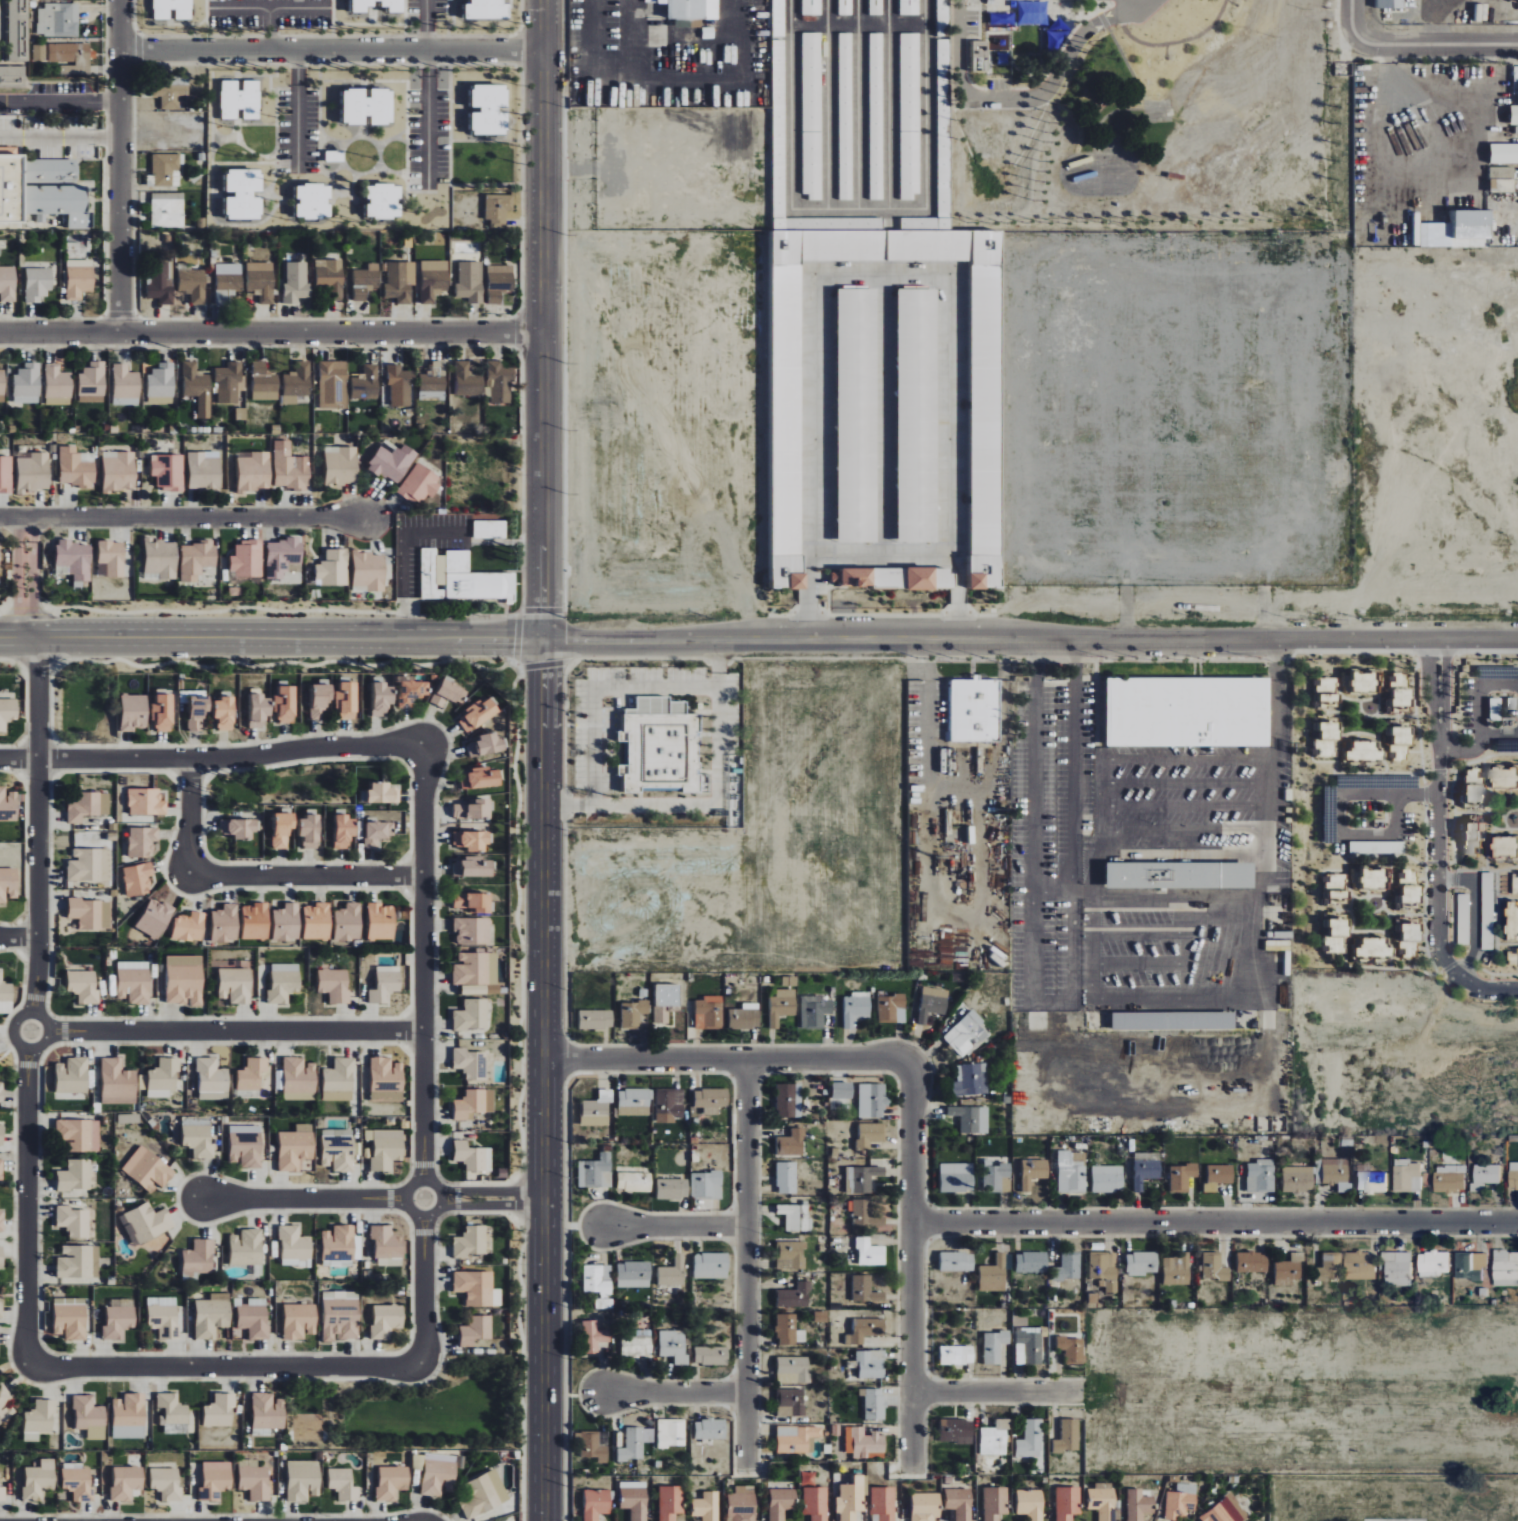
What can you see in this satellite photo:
building: (1385, 4)
road: (1122, 5)
road: (269, 6)
building: (392, 6)
building: (811, 7)
building: (845, 7)
building: (876, 7)
building: (909, 7)
building: (173, 9)
building: (487, 9)
building: (692, 9)
road: (1349, 15)
building: (941, 17)
road: (713, 18)
building: (778, 18)
building: (58, 20)
road: (858, 23)
road: (268, 27)
building: (16, 29)
road: (1434, 32)
road: (707, 36)
road: (589, 47)
road: (328, 48)
building: (39, 52)
building: (942, 55)
building: (980, 56)
building: (70, 57)
road: (685, 82)
road: (427, 90)
building: (170, 91)
building: (1516, 93)
building: (240, 99)
road: (1030, 99)
road: (59, 101)
road: (297, 104)
road: (828, 104)
road: (858, 104)
road: (889, 104)
building: (368, 106)
building: (490, 109)
building: (1511, 115)
building: (812, 116)
building: (845, 116)
building: (876, 116)
building: (909, 116)
road: (59, 136)
building: (1501, 153)
building: (335, 156)
road: (118, 163)
building: (165, 170)
building: (1497, 180)
building: (41, 190)
building: (244, 194)
building: (314, 201)
building: (384, 201)
building: (167, 209)
building: (498, 209)
road: (859, 209)
building: (1446, 228)
road: (881, 276)
building: (331, 277)
building: (79, 278)
building: (433, 280)
building: (261, 281)
building: (365, 281)
building: (297, 282)
building: (398, 282)
building: (469, 282)
building: (498, 282)
building: (160, 283)
building: (8, 284)
building: (38, 284)
building: (193, 284)
building: (228, 286)
road: (533, 318)
road: (266, 327)
building: (467, 380)
building: (500, 381)
building: (2, 382)
building: (91, 382)
building: (264, 382)
building: (297, 382)
building: (433, 382)
building: (27, 383)
building: (227, 383)
building: (366, 383)
building: (161, 384)
building: (332, 384)
building: (57, 385)
building: (125, 386)
building: (400, 386)
building: (196, 387)
road: (880, 413)
building: (858, 415)
building: (918, 415)
building: (987, 425)
building: (392, 462)
building: (341, 466)
building: (74, 468)
building: (205, 470)
building: (119, 471)
building: (254, 471)
building: (168, 472)
building: (290, 472)
building: (33, 473)
building: (6, 474)
building: (420, 485)
road: (183, 517)
building: (490, 529)
road: (882, 550)
building: (282, 556)
building: (112, 558)
building: (161, 559)
building: (196, 559)
building: (247, 560)
building: (74, 561)
road: (403, 563)
building: (334, 568)
building: (370, 570)
road: (29, 577)
building: (873, 577)
building: (931, 578)
building: (463, 579)
road: (759, 638)
building: (1358, 681)
building: (1394, 689)
building: (411, 691)
building: (1321, 691)
road: (1482, 692)
building: (448, 694)
building: (381, 697)
building: (346, 700)
building: (320, 701)
road: (1277, 701)
building: (285, 704)
building: (258, 708)
building: (1492, 709)
road: (925, 710)
building: (975, 710)
building: (8, 712)
building: (133, 712)
building: (198, 712)
building: (1188, 712)
building: (162, 713)
building: (224, 713)
building: (478, 714)
road: (1500, 734)
building: (1321, 738)
building: (1394, 742)
building: (486, 746)
building: (661, 746)
building: (1358, 750)
road: (1465, 751)
road: (213, 757)
road: (1184, 759)
building: (1502, 776)
building: (483, 778)
road: (1184, 783)
building: (1469, 787)
building: (383, 793)
building: (146, 802)
road: (705, 802)
road: (1185, 804)
building: (8, 805)
building: (89, 806)
building: (474, 810)
road: (1265, 811)
road: (1339, 812)
building: (1326, 814)
building: (239, 828)
building: (283, 829)
road: (1185, 829)
building: (309, 831)
building: (344, 831)
building: (378, 833)
building: (1469, 836)
building: (142, 841)
building: (472, 841)
road: (1438, 843)
building: (1504, 846)
building: (89, 865)
building: (473, 867)
building: (1181, 875)
road: (245, 876)
building: (1364, 878)
building: (138, 879)
building: (8, 884)
building: (1404, 888)
road: (1082, 889)
building: (1331, 889)
road: (1054, 890)
road: (1173, 896)
building: (473, 902)
road: (1475, 910)
building: (91, 914)
building: (155, 918)
building: (1511, 920)
building: (317, 921)
building: (256, 922)
building: (348, 922)
building: (380, 922)
building: (287, 923)
building: (225, 924)
road: (1091, 924)
building: (189, 927)
building: (472, 931)
road: (1139, 932)
building: (1331, 935)
building: (1463, 935)
road: (20, 937)
building: (1403, 938)
building: (1368, 947)
building: (1512, 957)
road: (1139, 963)
building: (475, 971)
building: (185, 980)
building: (789, 981)
building: (283, 982)
building: (134, 985)
building: (335, 985)
building: (385, 985)
building: (235, 986)
building: (84, 987)
building: (668, 995)
building: (6, 997)
road: (1210, 998)
road: (36, 999)
road: (1053, 1000)
building: (933, 1003)
building: (781, 1006)
building: (856, 1009)
building: (891, 1009)
building: (814, 1011)
building: (709, 1012)
building: (633, 1014)
building: (472, 1016)
building: (744, 1019)
building: (596, 1020)
building: (1171, 1021)
road: (226, 1031)
building: (966, 1034)
road: (422, 1053)
building: (470, 1063)
road: (731, 1064)
building: (252, 1074)
building: (72, 1076)
building: (163, 1078)
building: (299, 1079)
road: (538, 1079)
building: (212, 1080)
building: (339, 1080)
building: (387, 1080)
building: (971, 1080)
building: (117, 1083)
building: (842, 1090)
building: (1, 1092)
building: (711, 1100)
building: (789, 1100)
building: (872, 1100)
building: (635, 1102)
building: (670, 1103)
building: (474, 1104)
building: (598, 1106)
building: (972, 1119)
building: (1, 1135)
building: (79, 1135)
building: (870, 1135)
building: (198, 1140)
building: (791, 1144)
building: (295, 1147)
building: (246, 1149)
building: (386, 1149)
building: (338, 1152)
building: (473, 1159)
building: (148, 1169)
building: (1146, 1169)
building: (1, 1170)
building: (596, 1172)
building: (1332, 1172)
building: (1033, 1173)
building: (1072, 1174)
building: (75, 1175)
building: (1215, 1176)
building: (1257, 1176)
building: (1405, 1176)
building: (1484, 1176)
building: (1513, 1176)
building: (957, 1177)
building: (1180, 1177)
building: (787, 1178)
building: (997, 1178)
building: (1294, 1178)
building: (1448, 1178)
building: (862, 1179)
building: (1107, 1179)
building: (634, 1182)
building: (1370, 1182)
building: (707, 1185)
building: (673, 1189)
road: (370, 1197)
building: (866, 1214)
building: (791, 1216)
building: (1, 1221)
road: (668, 1221)
building: (74, 1222)
building: (146, 1223)
road: (1214, 1225)
building: (471, 1242)
building: (338, 1244)
building: (387, 1246)
building: (294, 1247)
building: (247, 1248)
building: (870, 1253)
building: (1, 1255)
building: (790, 1255)
building: (198, 1259)
building: (79, 1262)
building: (957, 1262)
building: (1032, 1262)
building: (1248, 1262)
building: (1140, 1263)
building: (1433, 1264)
road: (743, 1265)
building: (1469, 1265)
building: (712, 1266)
building: (1358, 1266)
building: (1068, 1267)
building: (1211, 1267)
building: (1325, 1267)
building: (1505, 1268)
building: (1173, 1269)
building: (1396, 1269)
building: (1104, 1270)
building: (1285, 1270)
building: (673, 1273)
building: (634, 1275)
building: (994, 1275)
building: (599, 1284)
road: (911, 1287)
building: (475, 1288)
building: (866, 1290)
building: (795, 1296)
building: (1, 1307)
building: (212, 1316)
building: (340, 1316)
building: (163, 1317)
building: (254, 1318)
building: (119, 1319)
building: (71, 1321)
building: (299, 1321)
building: (386, 1321)
building: (476, 1331)
building: (789, 1331)
building: (865, 1331)
building: (594, 1337)
building: (637, 1343)
building: (673, 1346)
building: (995, 1346)
building: (1028, 1346)
building: (1071, 1350)
building: (711, 1355)
building: (957, 1355)
building: (871, 1364)
road: (225, 1368)
building: (793, 1370)
road: (1214, 1389)
road: (668, 1400)
building: (790, 1403)
building: (874, 1403)
building: (4, 1411)
building: (220, 1411)
building: (174, 1413)
building: (267, 1413)
building: (129, 1416)
building: (89, 1417)
building: (39, 1420)
building: (710, 1429)
building: (956, 1431)
building: (671, 1433)
building: (1068, 1436)
building: (796, 1437)
building: (994, 1438)
building: (1030, 1439)
building: (864, 1443)
building: (595, 1445)
building: (632, 1445)
building: (435, 1473)
building: (39, 1479)
building: (254, 1479)
building: (215, 1480)
building: (303, 1480)
building: (77, 1481)
building: (126, 1482)
building: (391, 1482)
building: (167, 1483)
building: (343, 1484)
building: (3, 1493)
building: (484, 1494)
building: (634, 1499)
building: (1177, 1501)
building: (670, 1502)
building: (596, 1503)
building: (781, 1503)
building: (816, 1503)
building: (882, 1503)
building: (959, 1503)
building: (995, 1503)
building: (1067, 1503)
building: (1102, 1503)
building: (742, 1504)
building: (1030, 1504)
building: (1137, 1505)
building: (706, 1506)
building: (925, 1506)
building: (1221, 1512)

